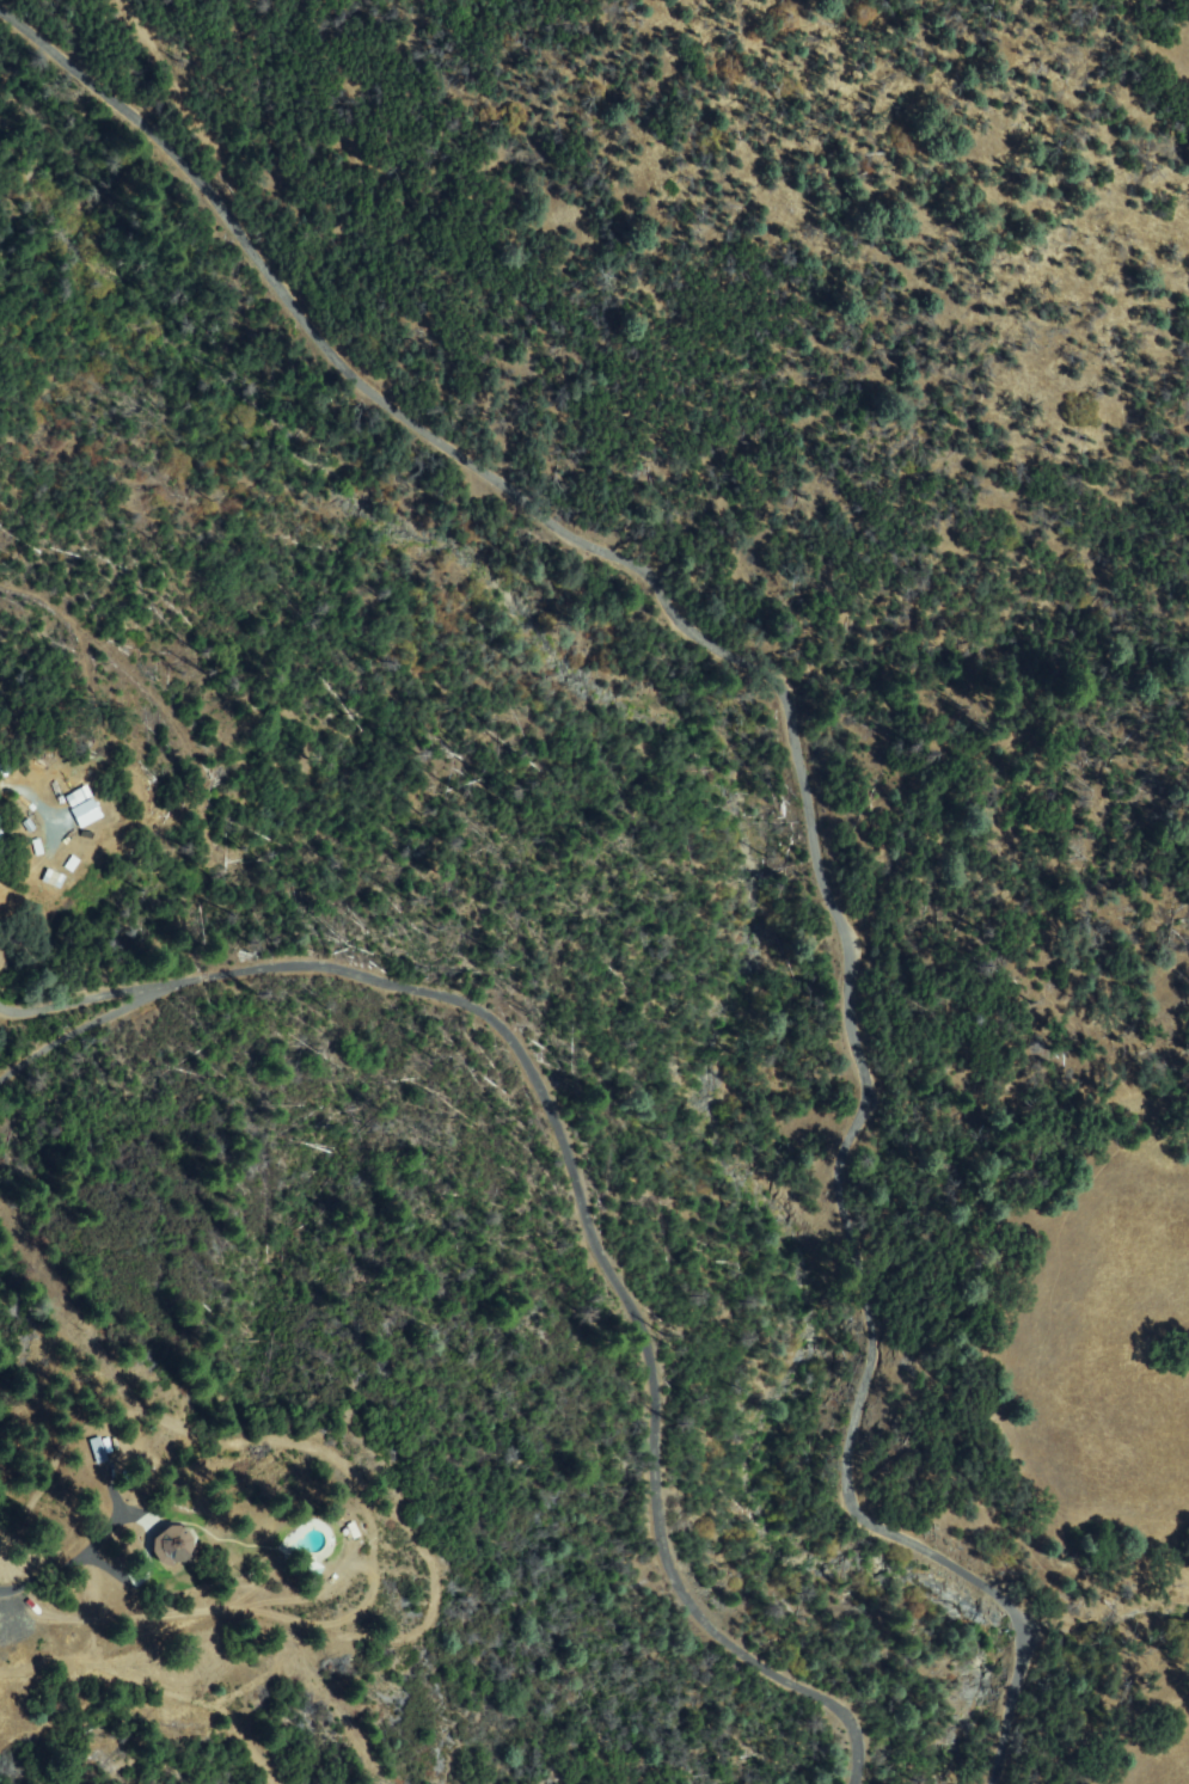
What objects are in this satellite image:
road: (795, 764)
building: (72, 798)
building: (48, 879)
road: (55, 1158)
road: (594, 1184)
building: (91, 1449)
building: (347, 1531)
building: (173, 1545)
road: (47, 1576)
road: (1102, 1729)

